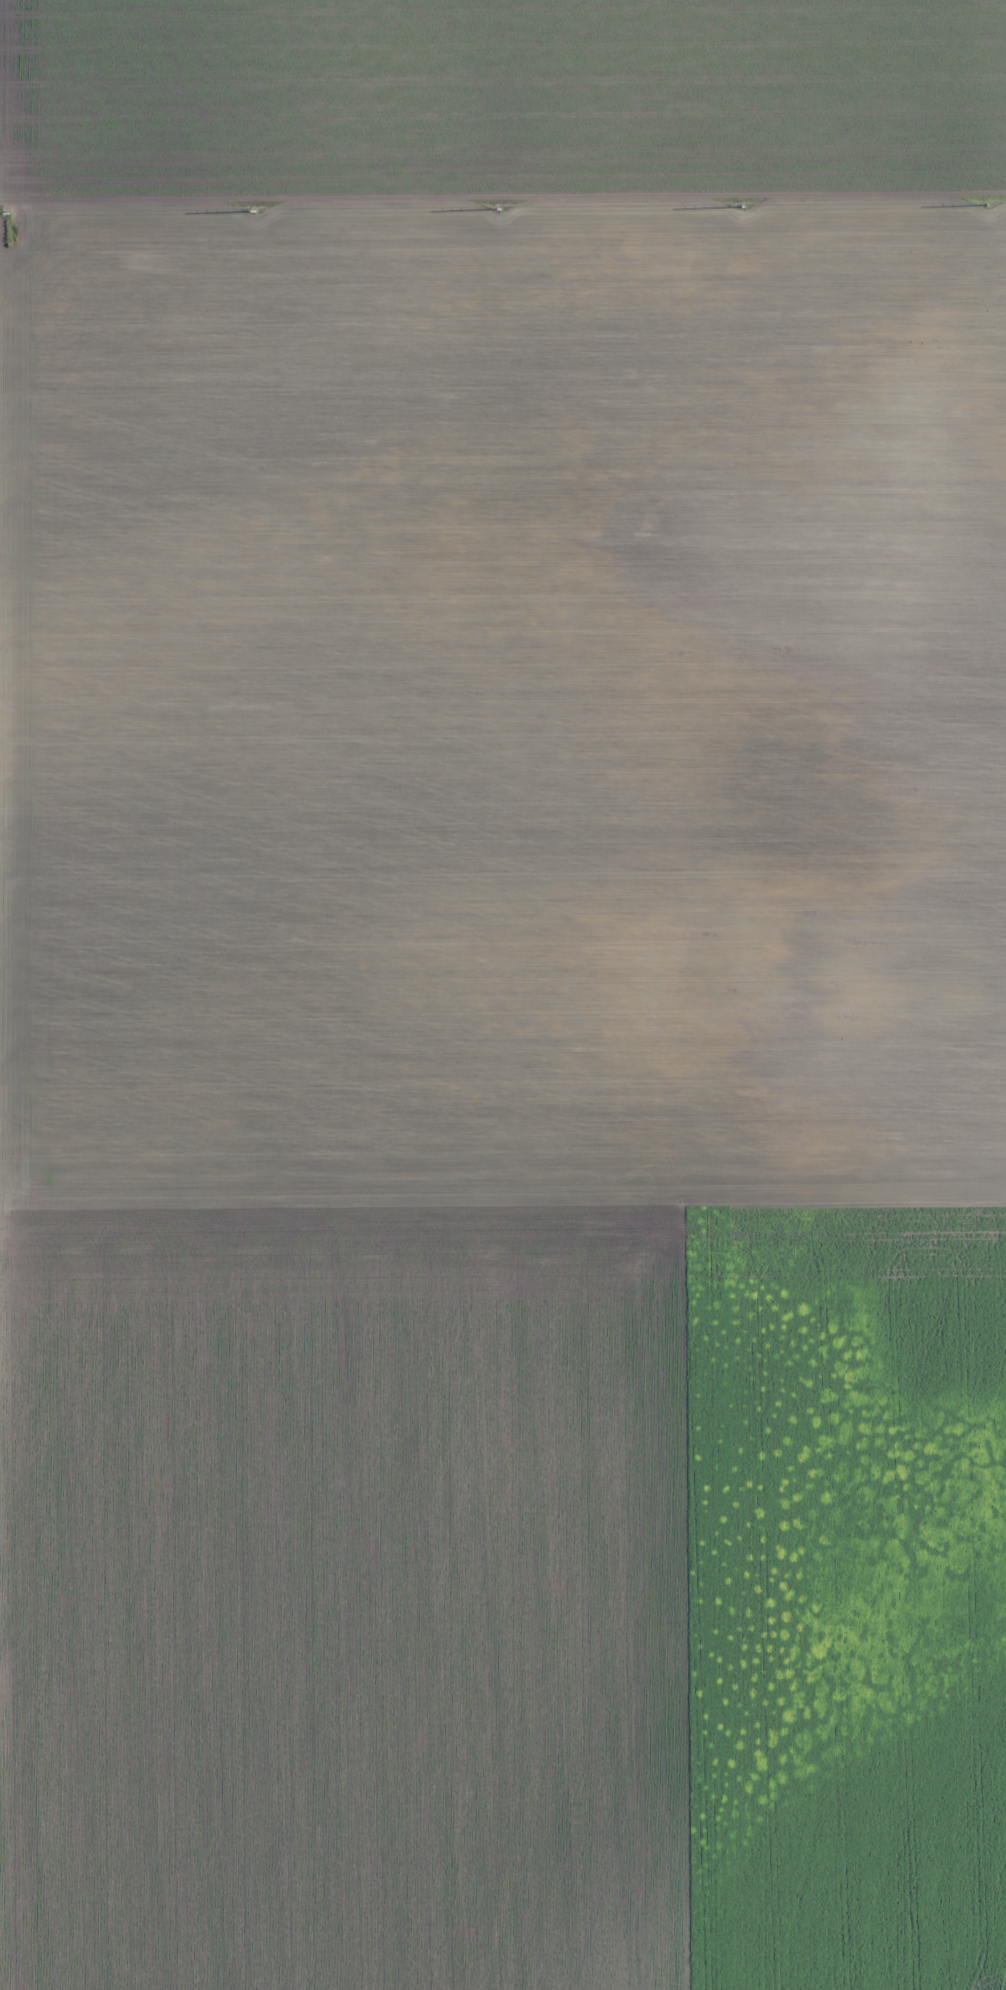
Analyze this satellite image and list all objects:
power tower: (946, 206)
power tower: (697, 209)
power tower: (441, 211)
power tower: (184, 213)
power tower: (13, 216)

